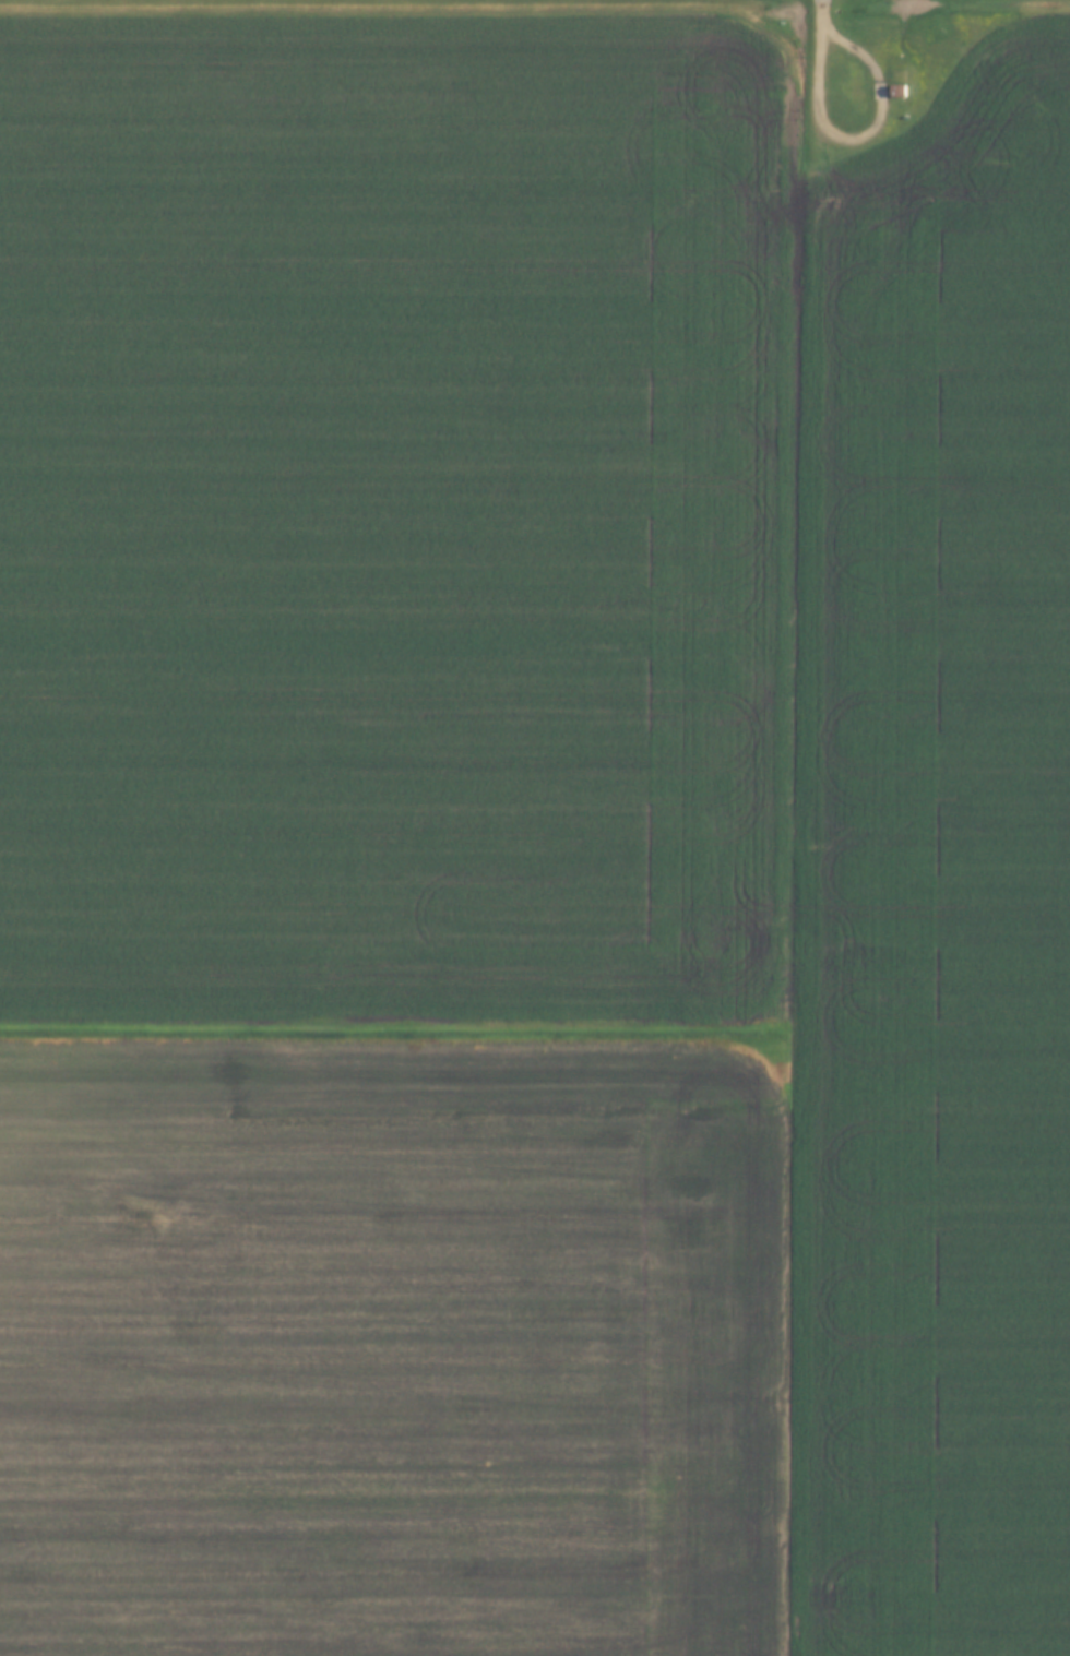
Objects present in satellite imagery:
road: (828, 14)
building: (900, 91)
road: (881, 98)

